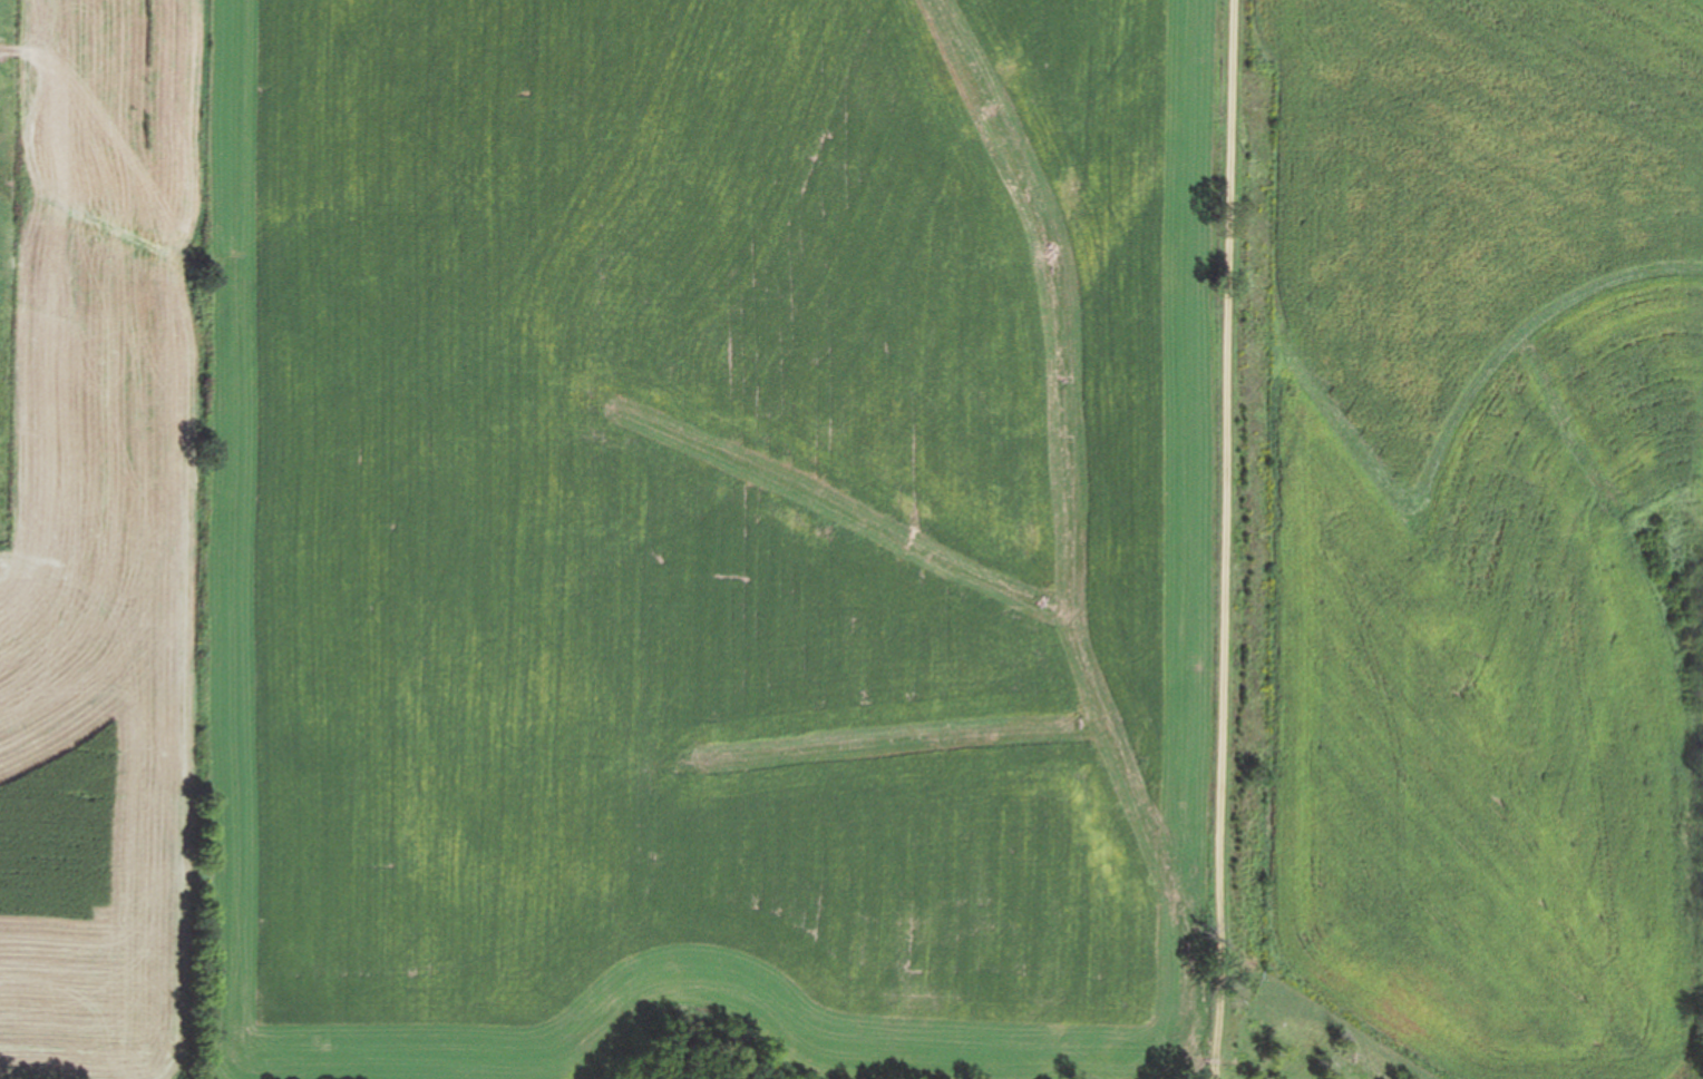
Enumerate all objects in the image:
road: (1702, 484)
road: (1224, 539)

